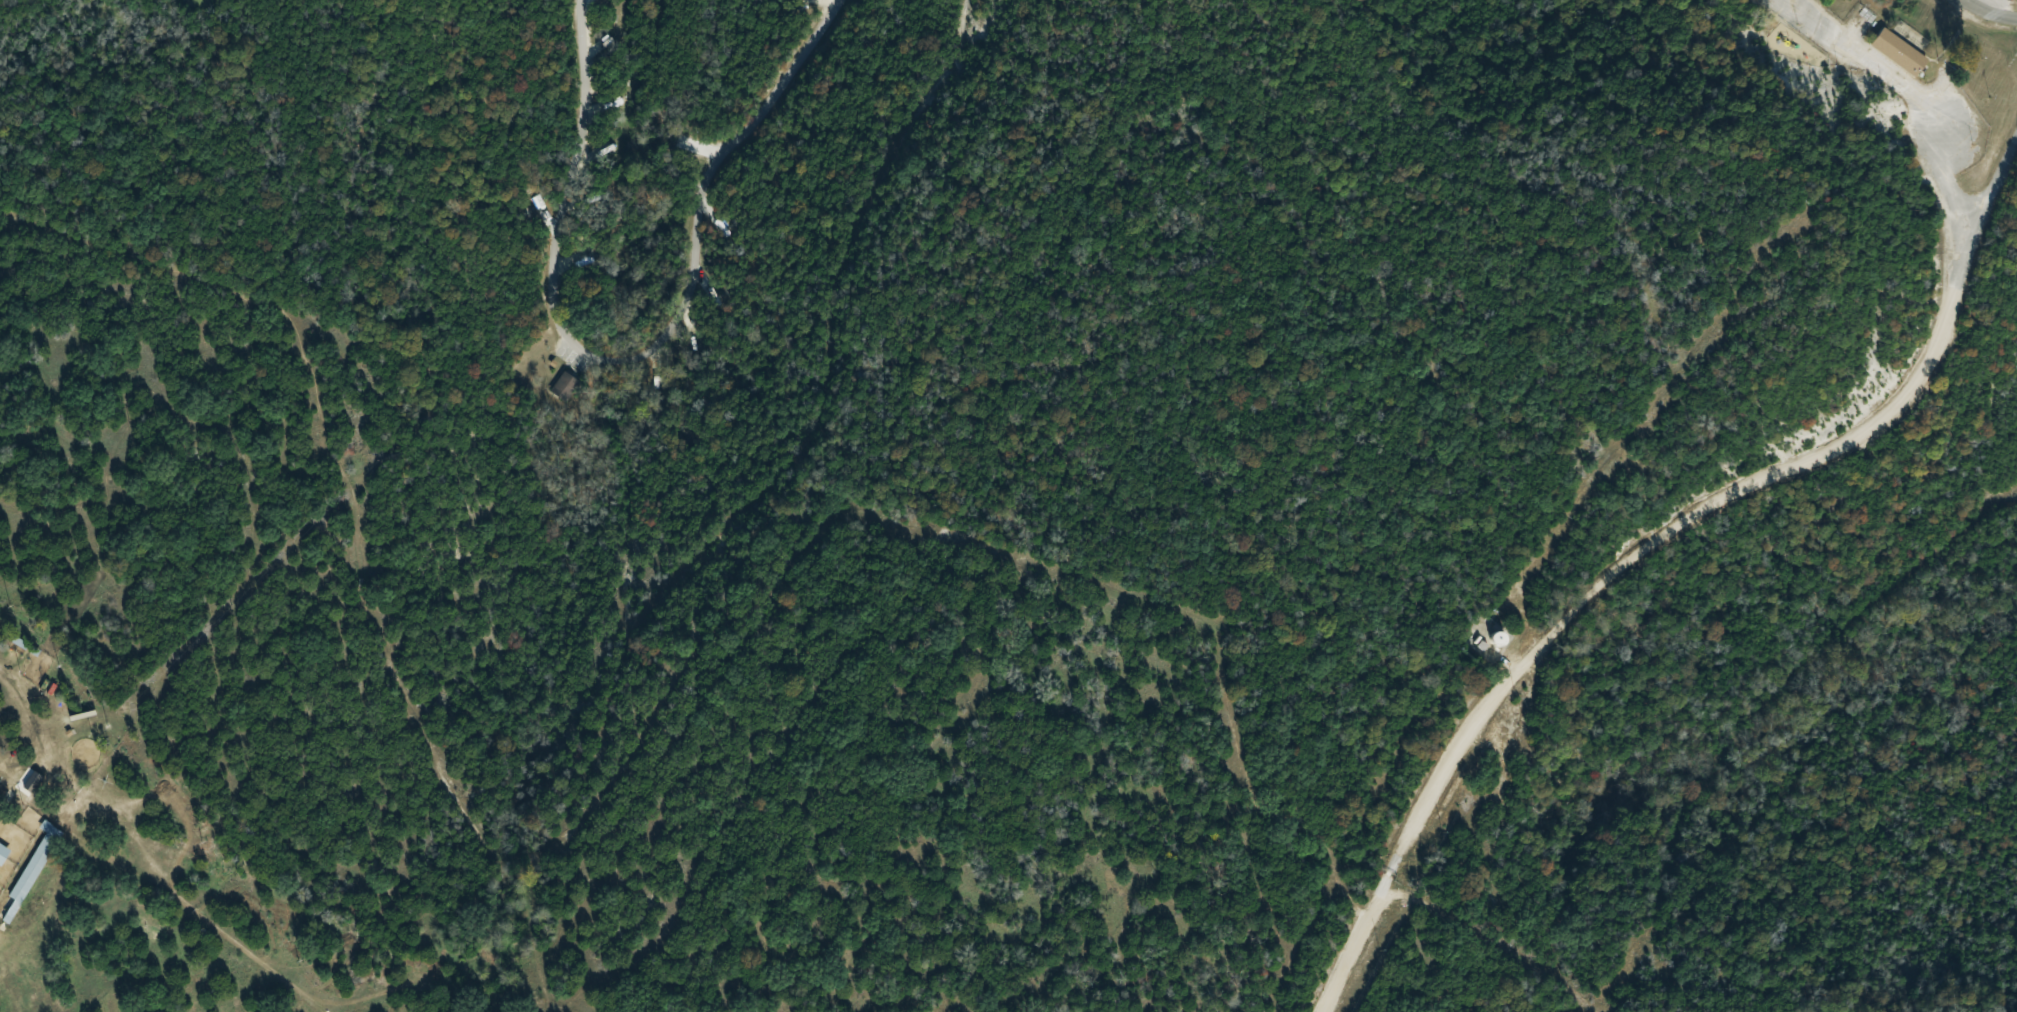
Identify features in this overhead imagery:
road: (1989, 11)
building: (1898, 52)
building: (565, 388)
road: (1710, 502)
park: (1008, 506)
building: (1496, 639)
building: (12, 800)
building: (3, 854)
building: (31, 874)
building: (35, 907)
road: (1356, 940)

